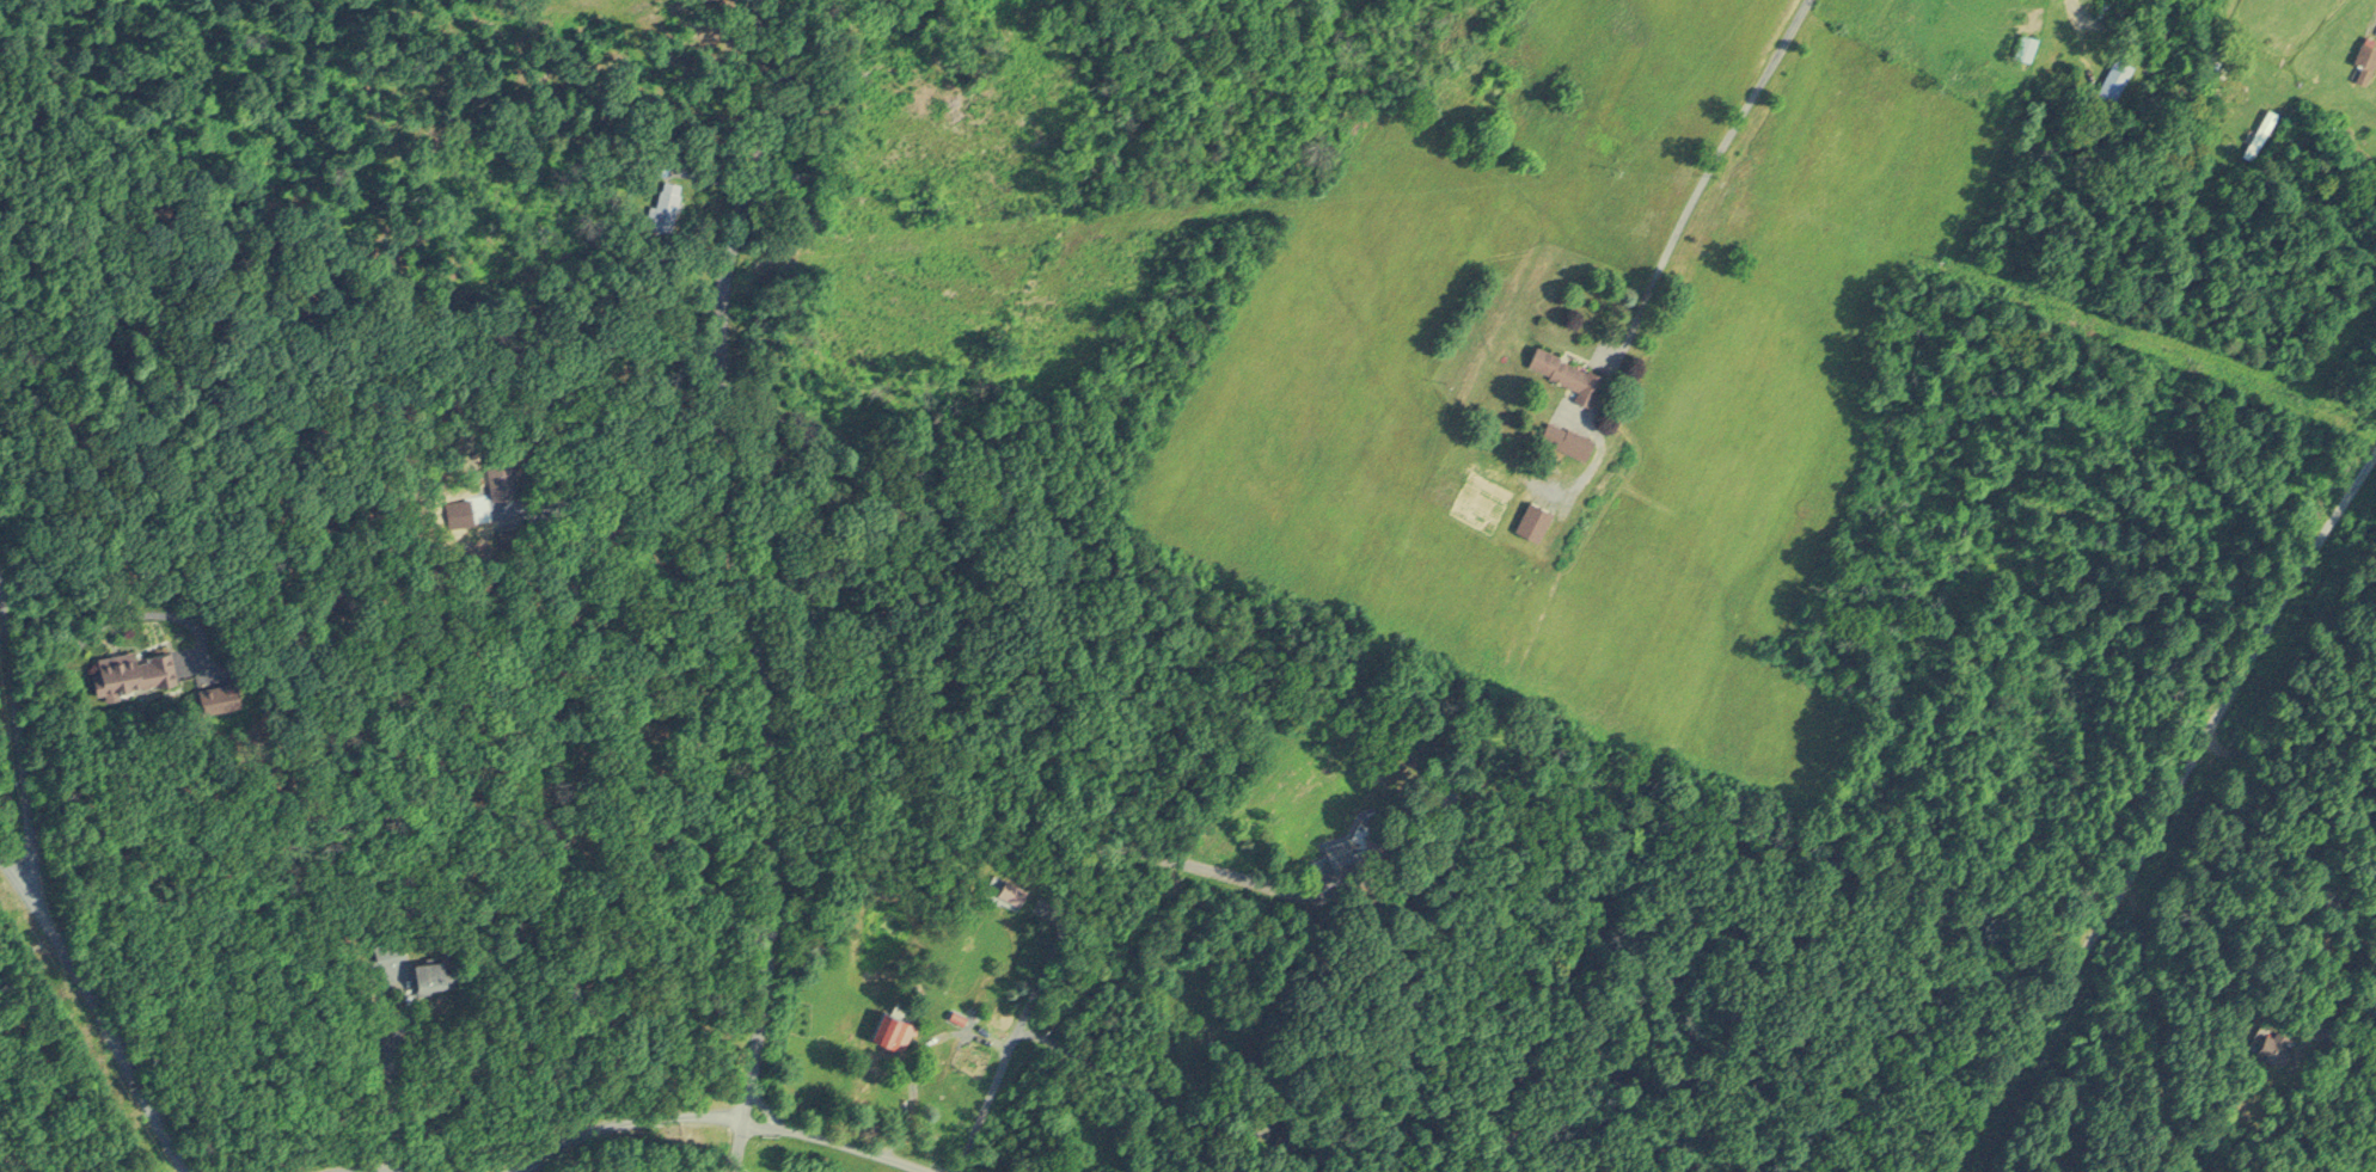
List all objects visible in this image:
building: (2026, 43)
building: (2365, 61)
building: (2115, 75)
building: (2002, 82)
building: (2260, 129)
building: (659, 158)
road: (1701, 165)
building: (665, 202)
building: (1567, 370)
building: (1567, 436)
building: (496, 472)
road: (743, 579)
road: (109, 618)
building: (136, 664)
road: (19, 750)
road: (2160, 809)
building: (1010, 886)
road: (1068, 903)
building: (430, 969)
road: (91, 1011)
building: (2268, 1038)
road: (1117, 1082)
road: (768, 1106)
road: (614, 1111)
road: (841, 1137)

